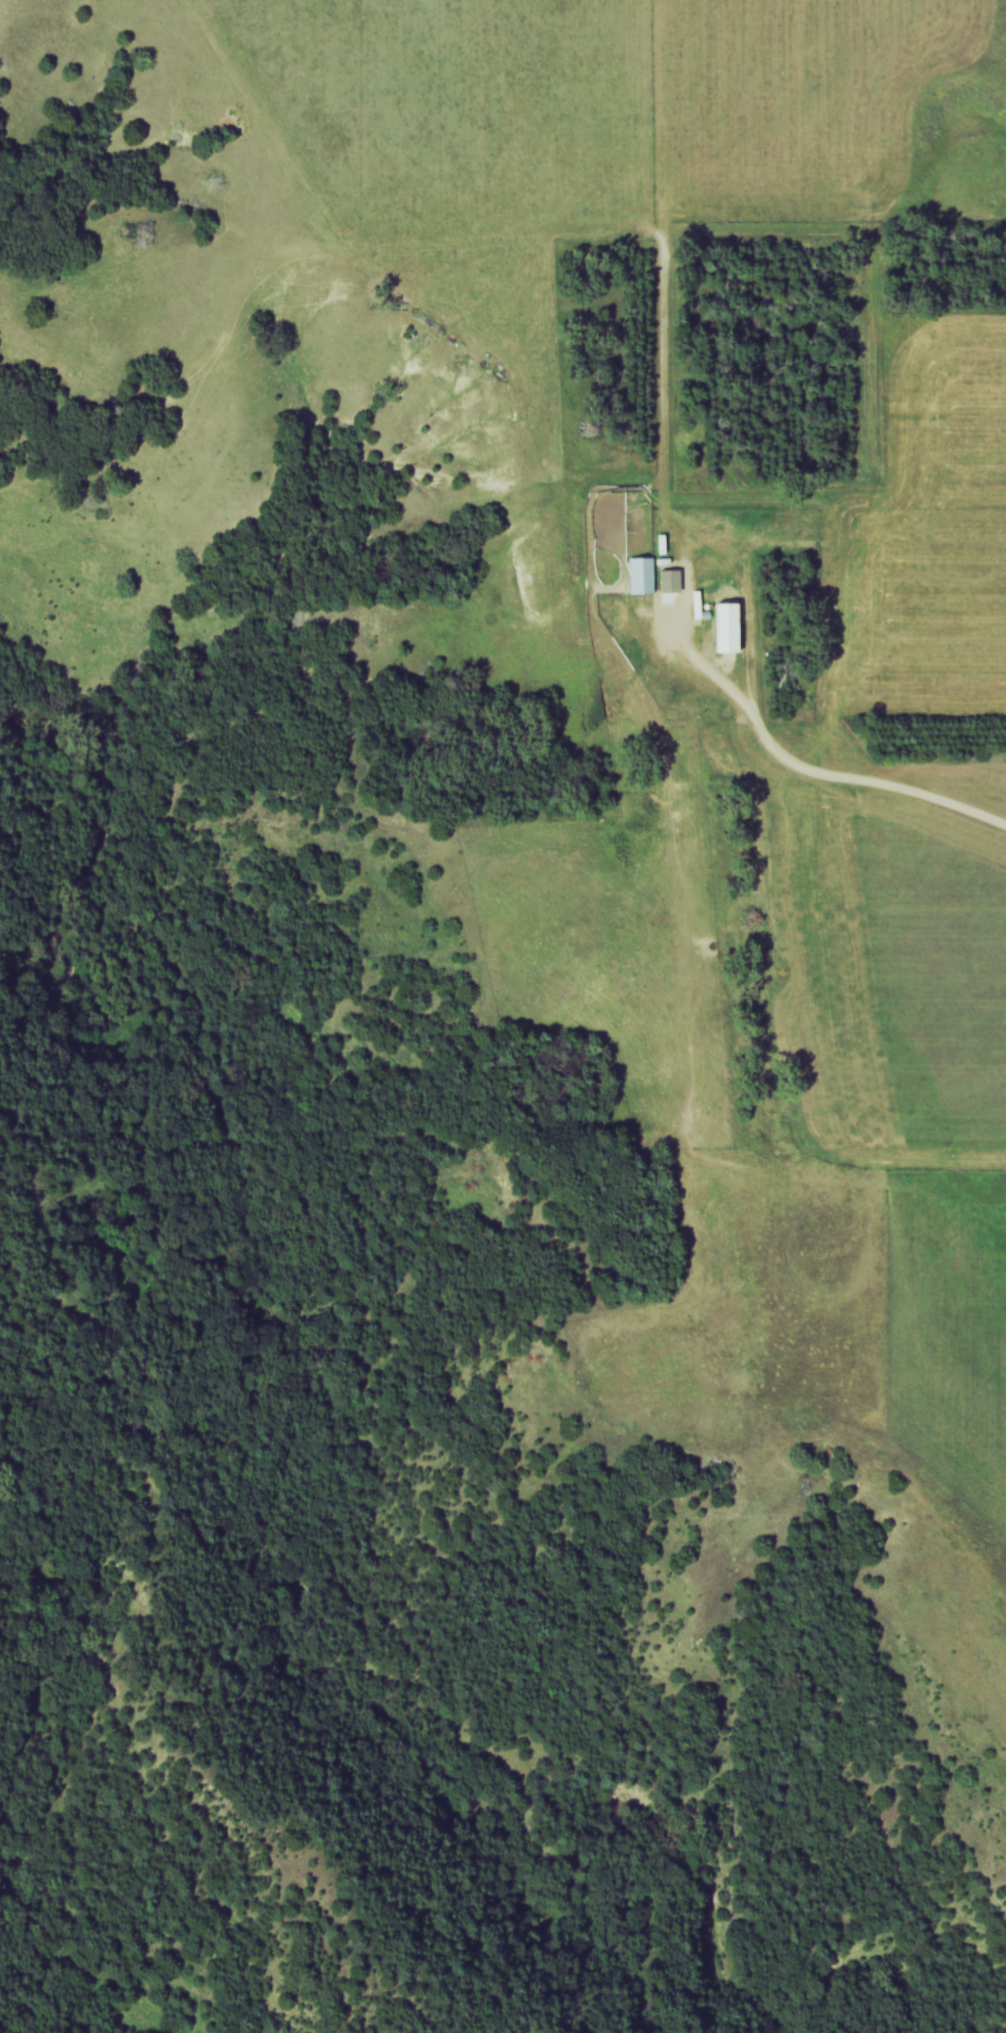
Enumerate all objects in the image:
building: (638, 577)
building: (665, 583)
road: (843, 789)

